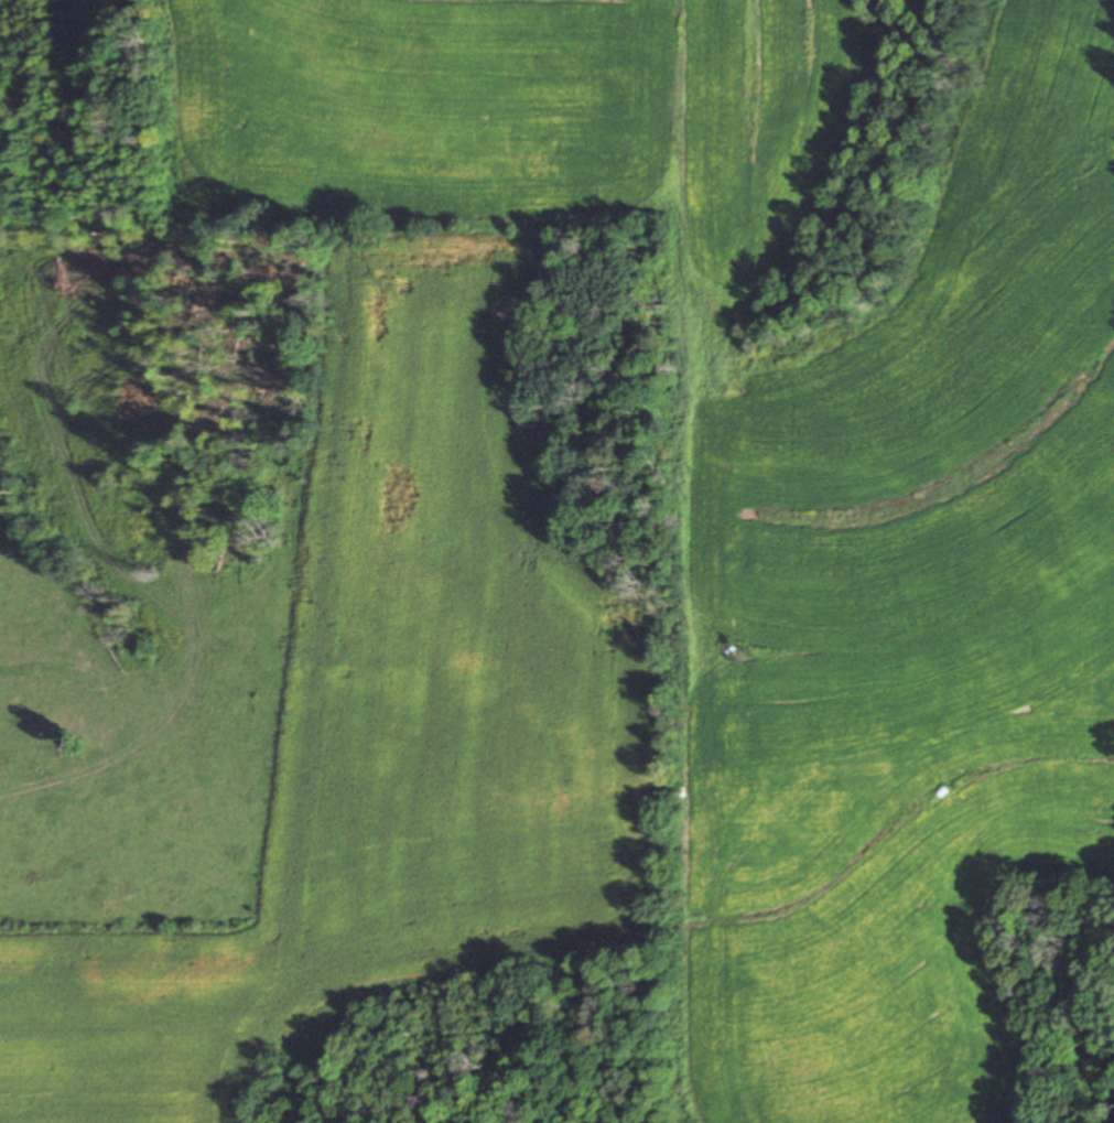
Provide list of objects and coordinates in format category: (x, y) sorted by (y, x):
crop: (531, 108)
crop: (388, 728)

